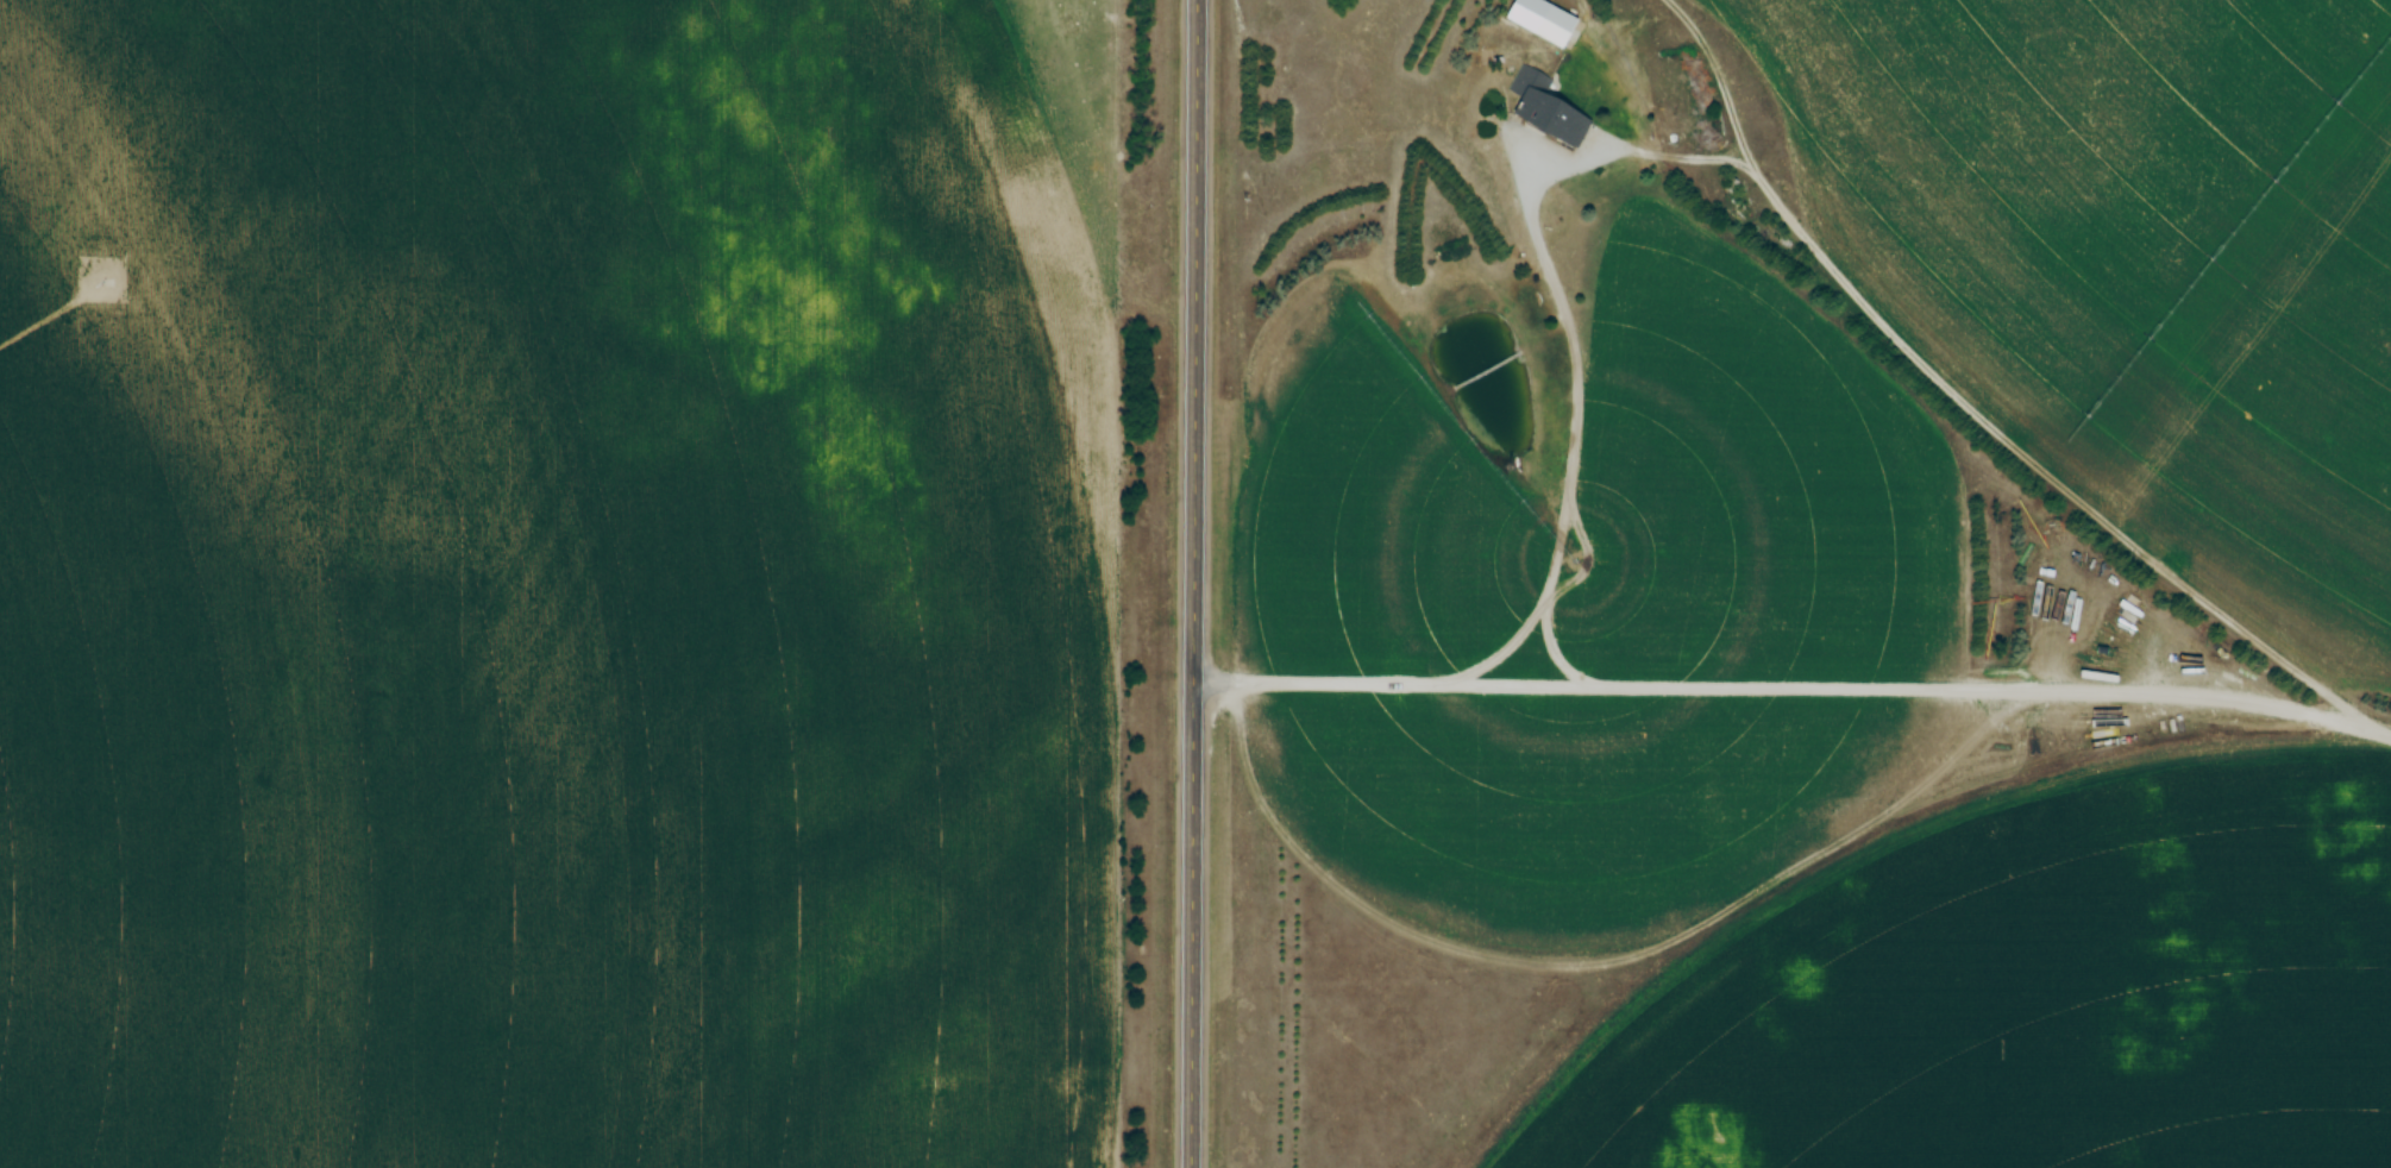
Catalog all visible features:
building: (1542, 21)
building: (1543, 108)
road: (1771, 191)
road: (1194, 583)
road: (1502, 652)
road: (1794, 690)

